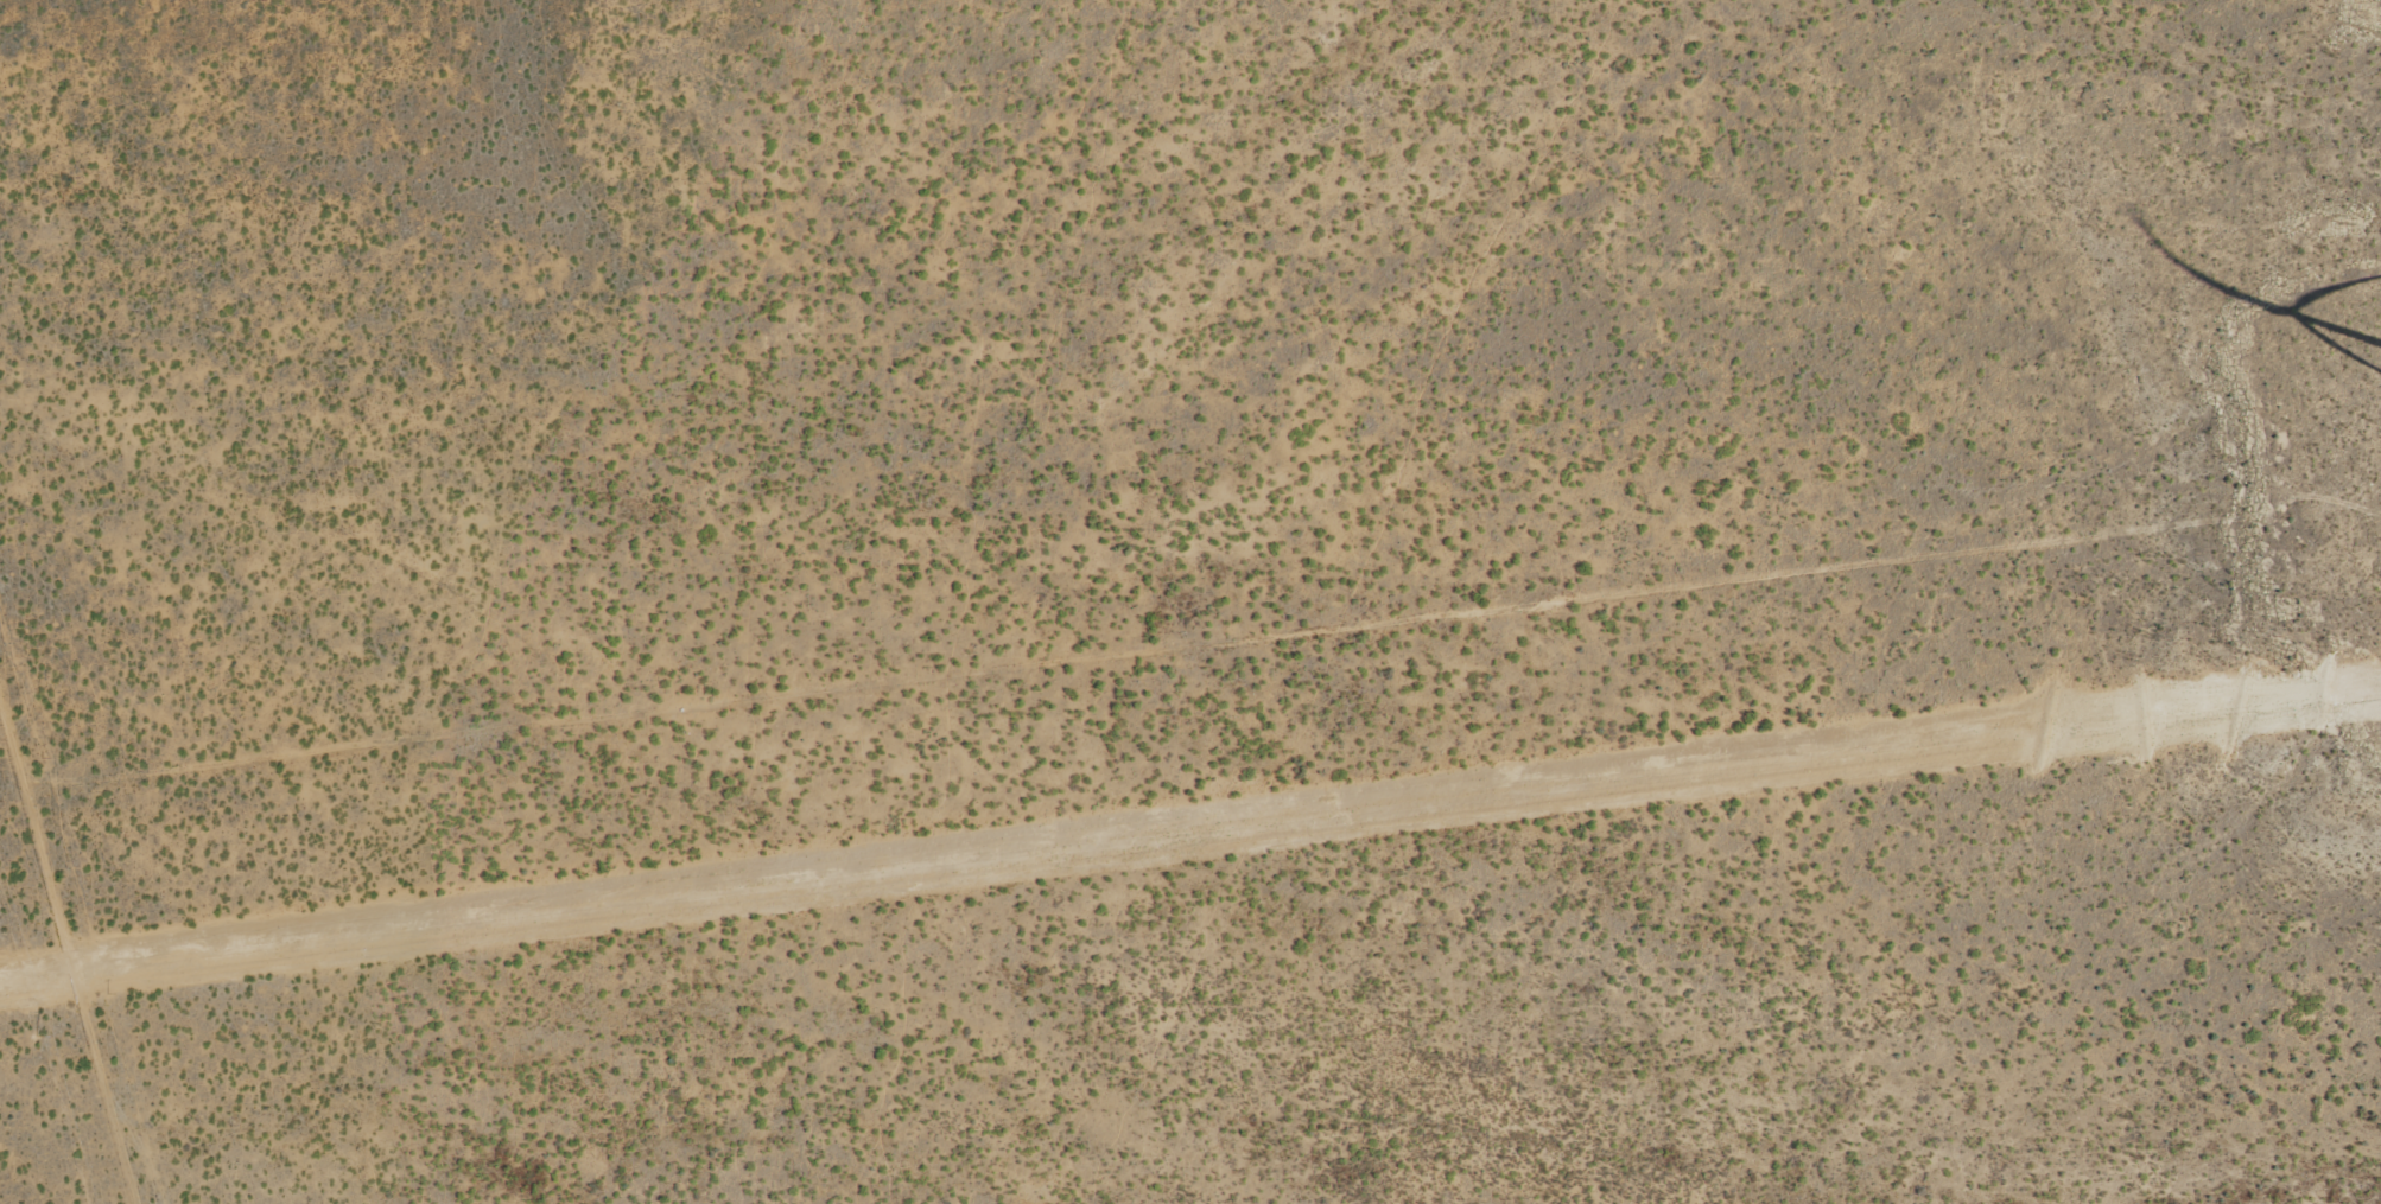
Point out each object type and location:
power tower: (34, 1037)

